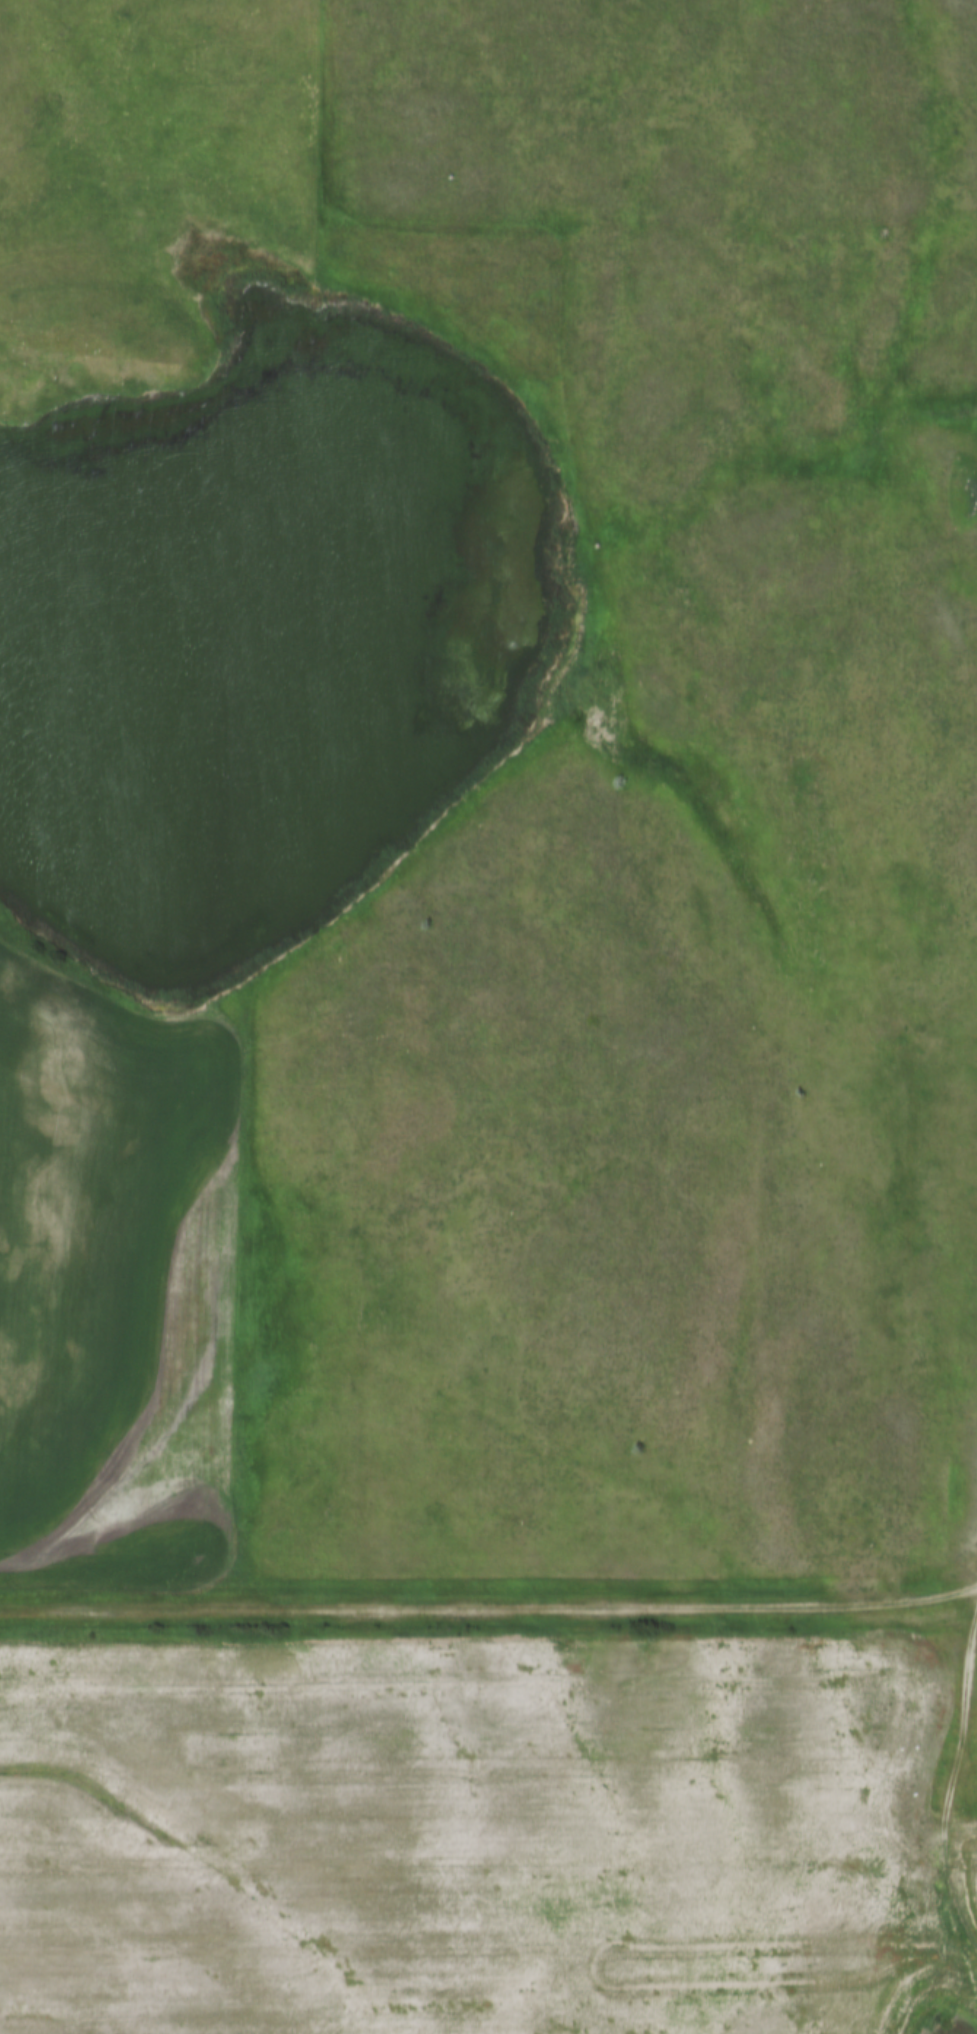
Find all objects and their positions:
road: (488, 1615)
road: (957, 1791)

